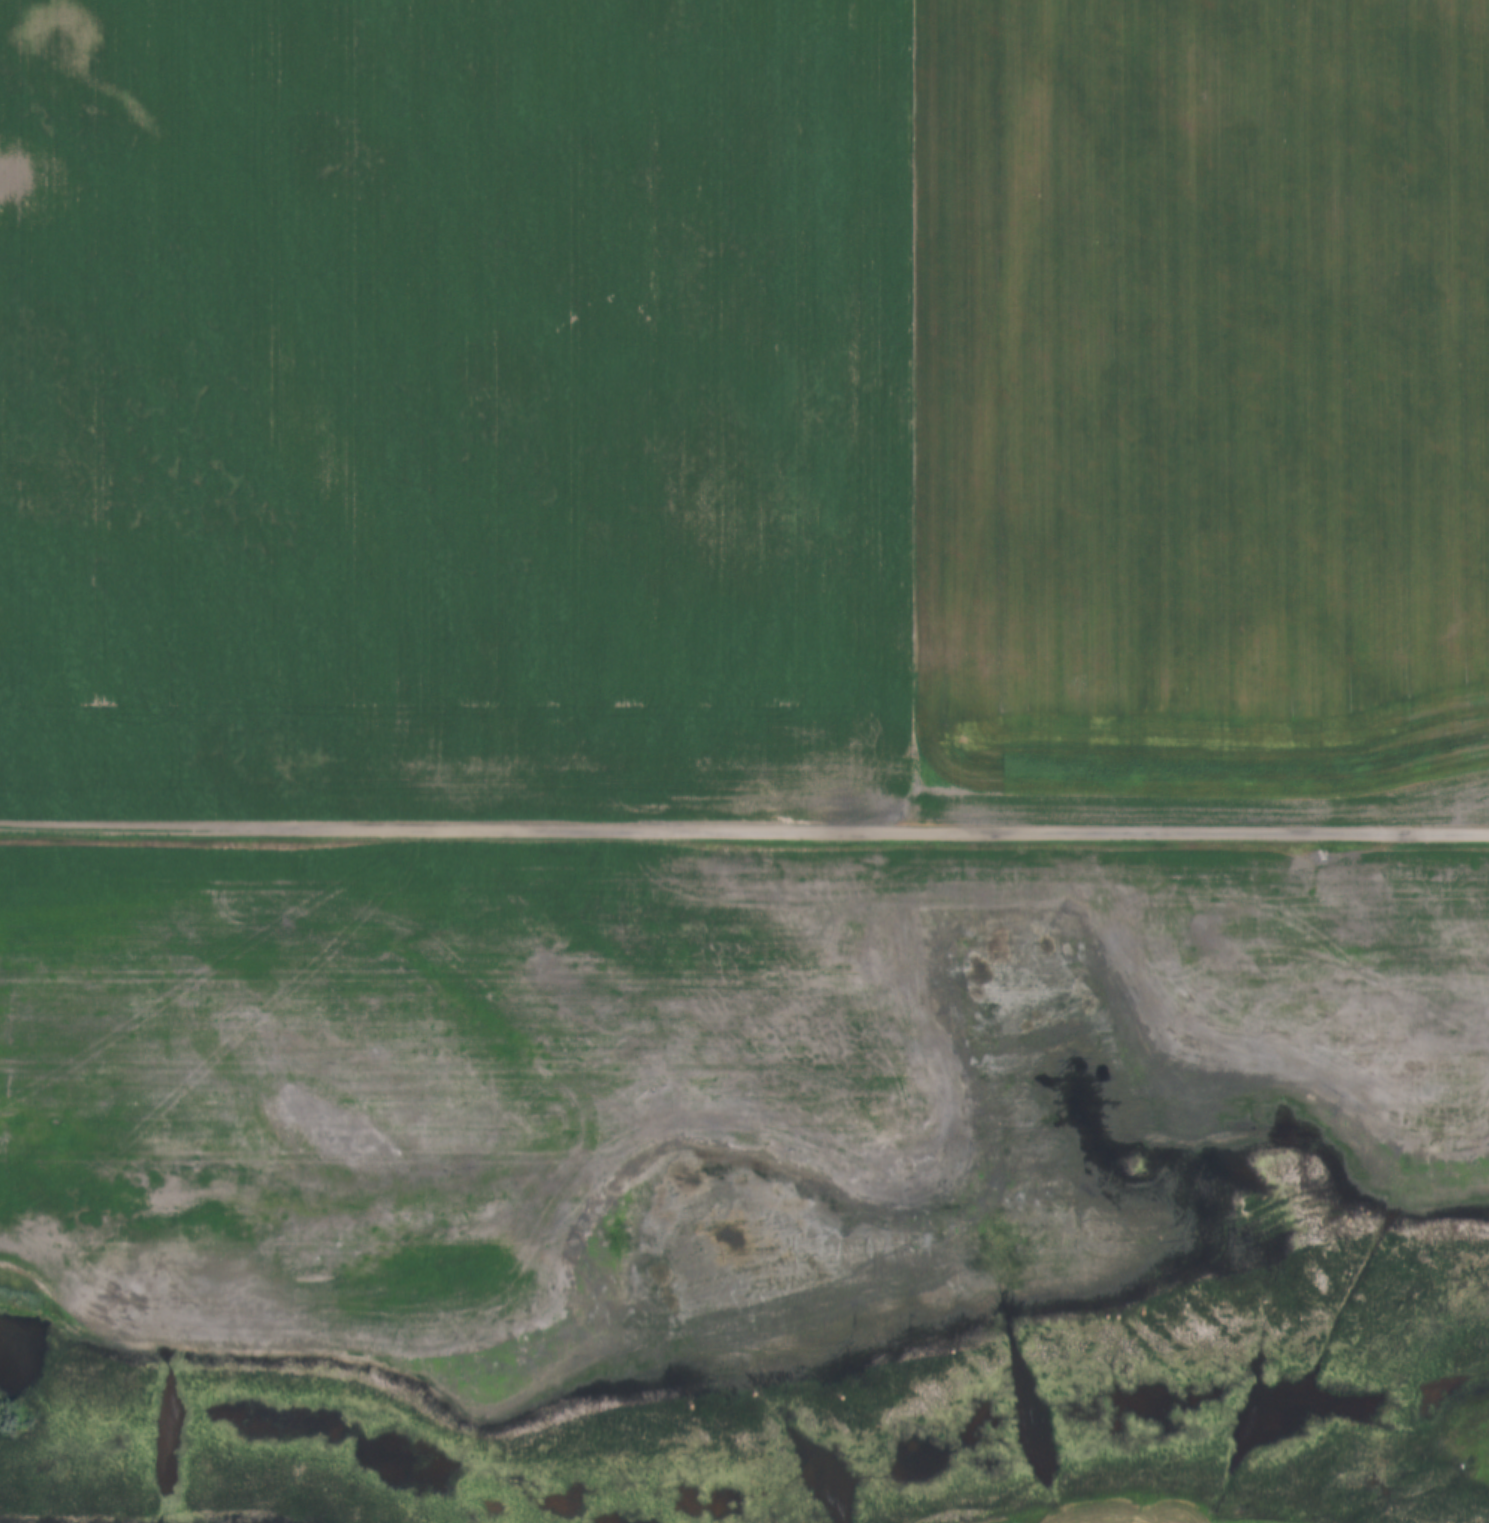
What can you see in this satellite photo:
road: (744, 835)

